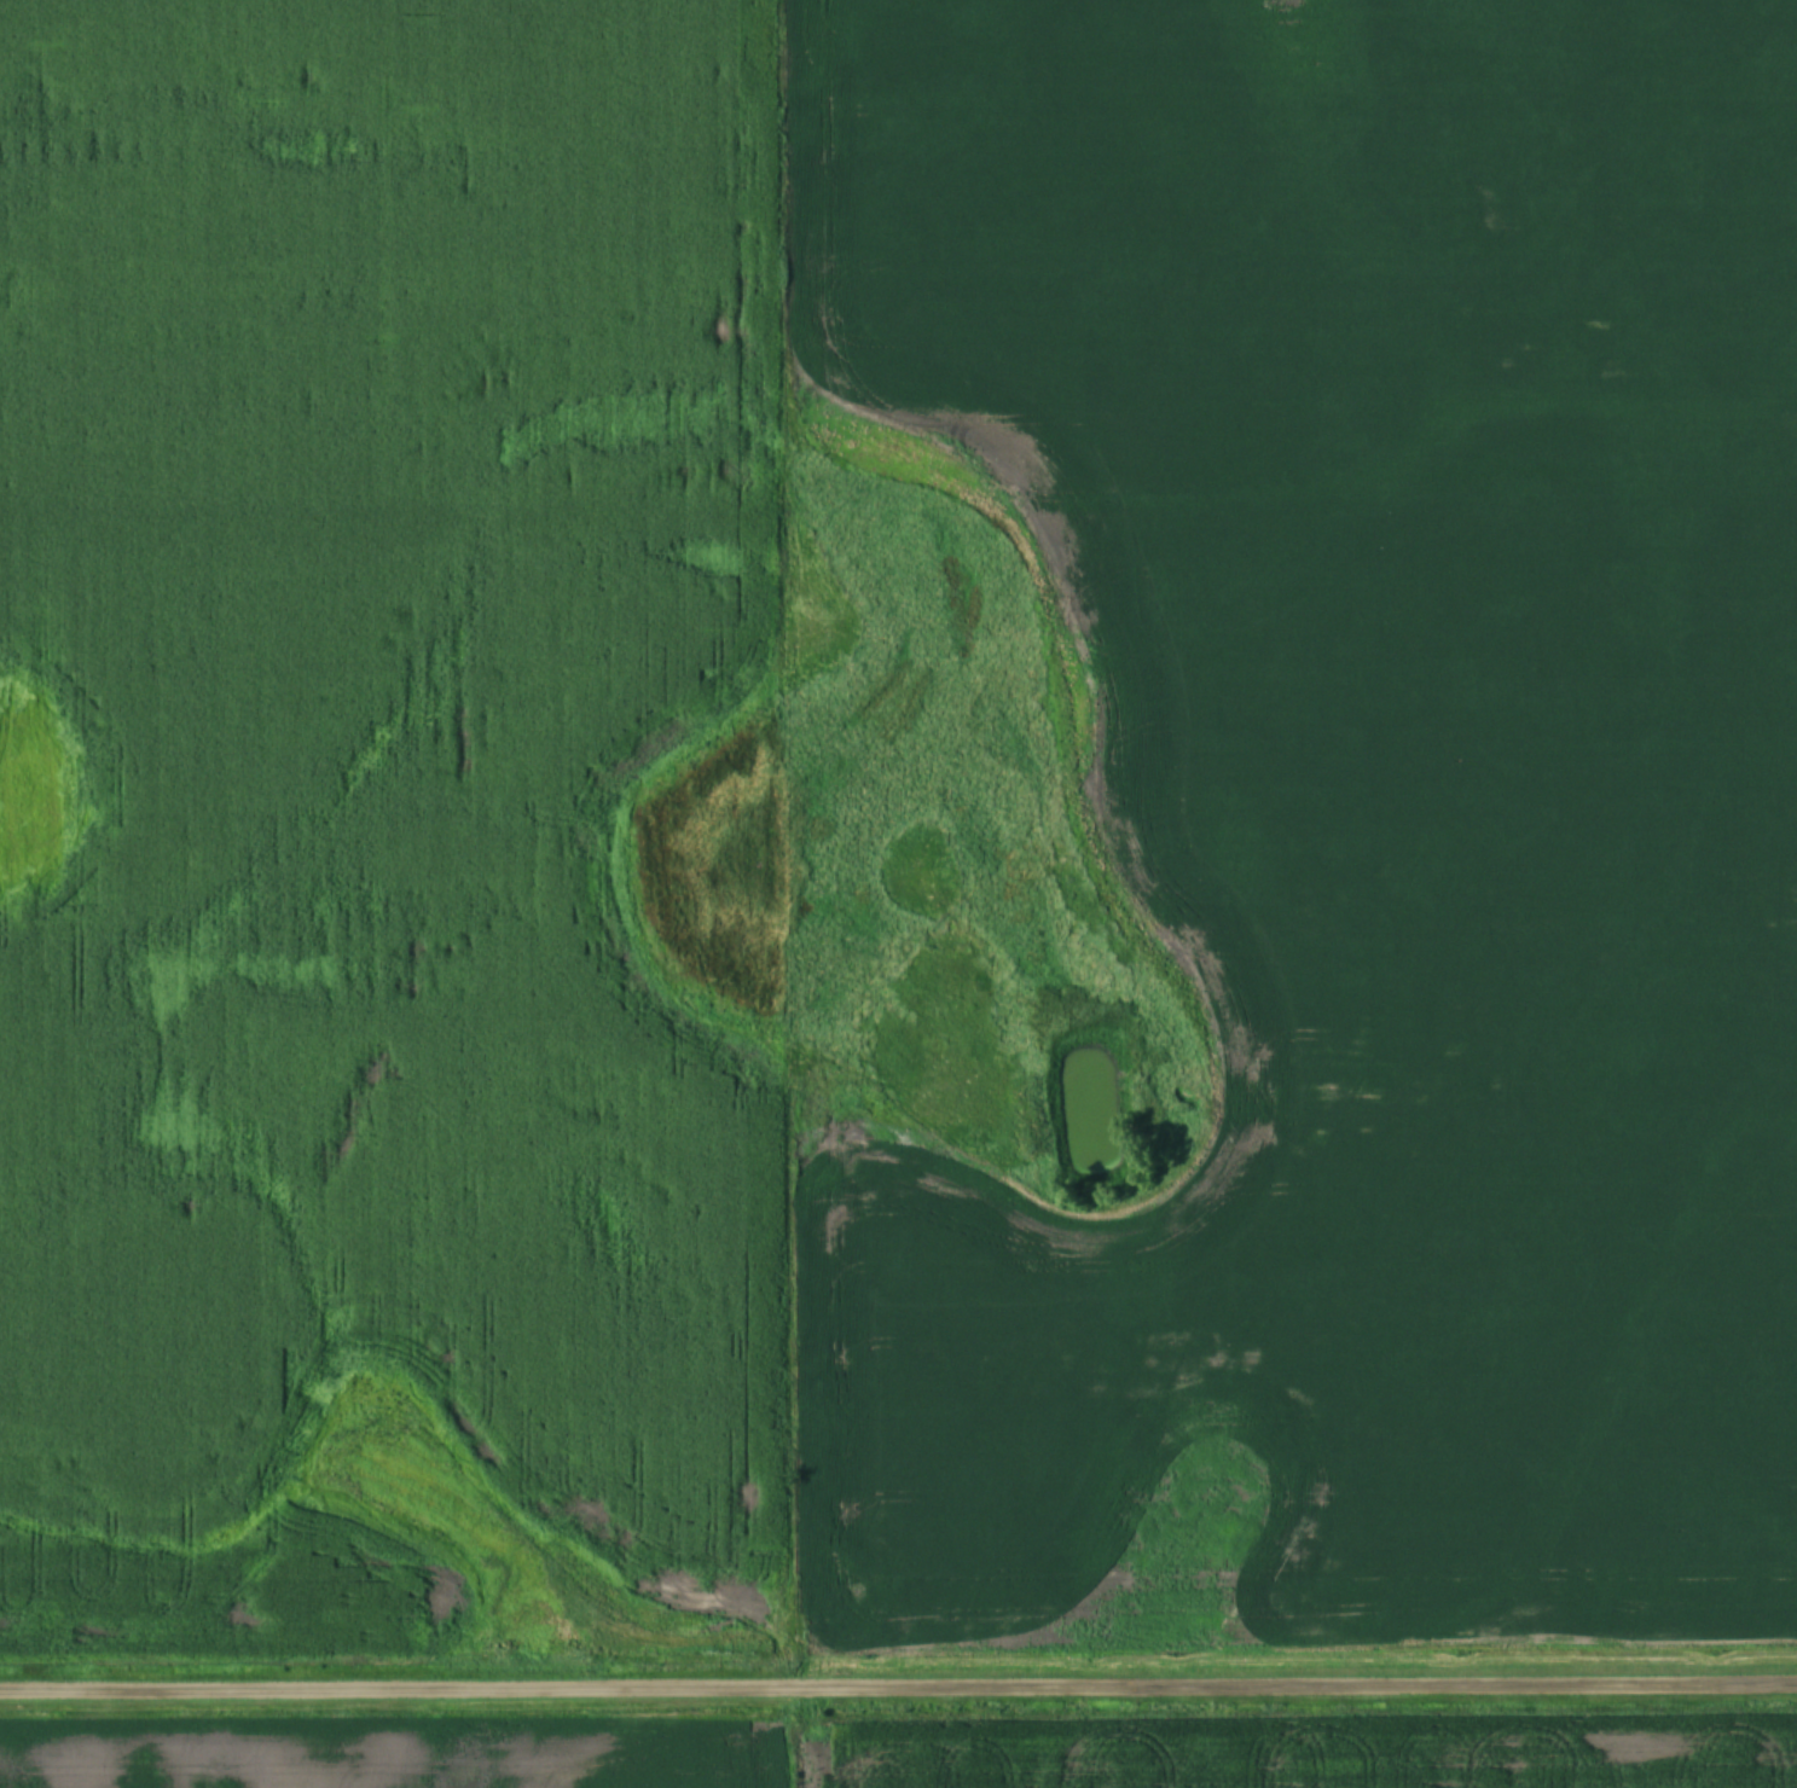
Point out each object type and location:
road: (898, 1684)

